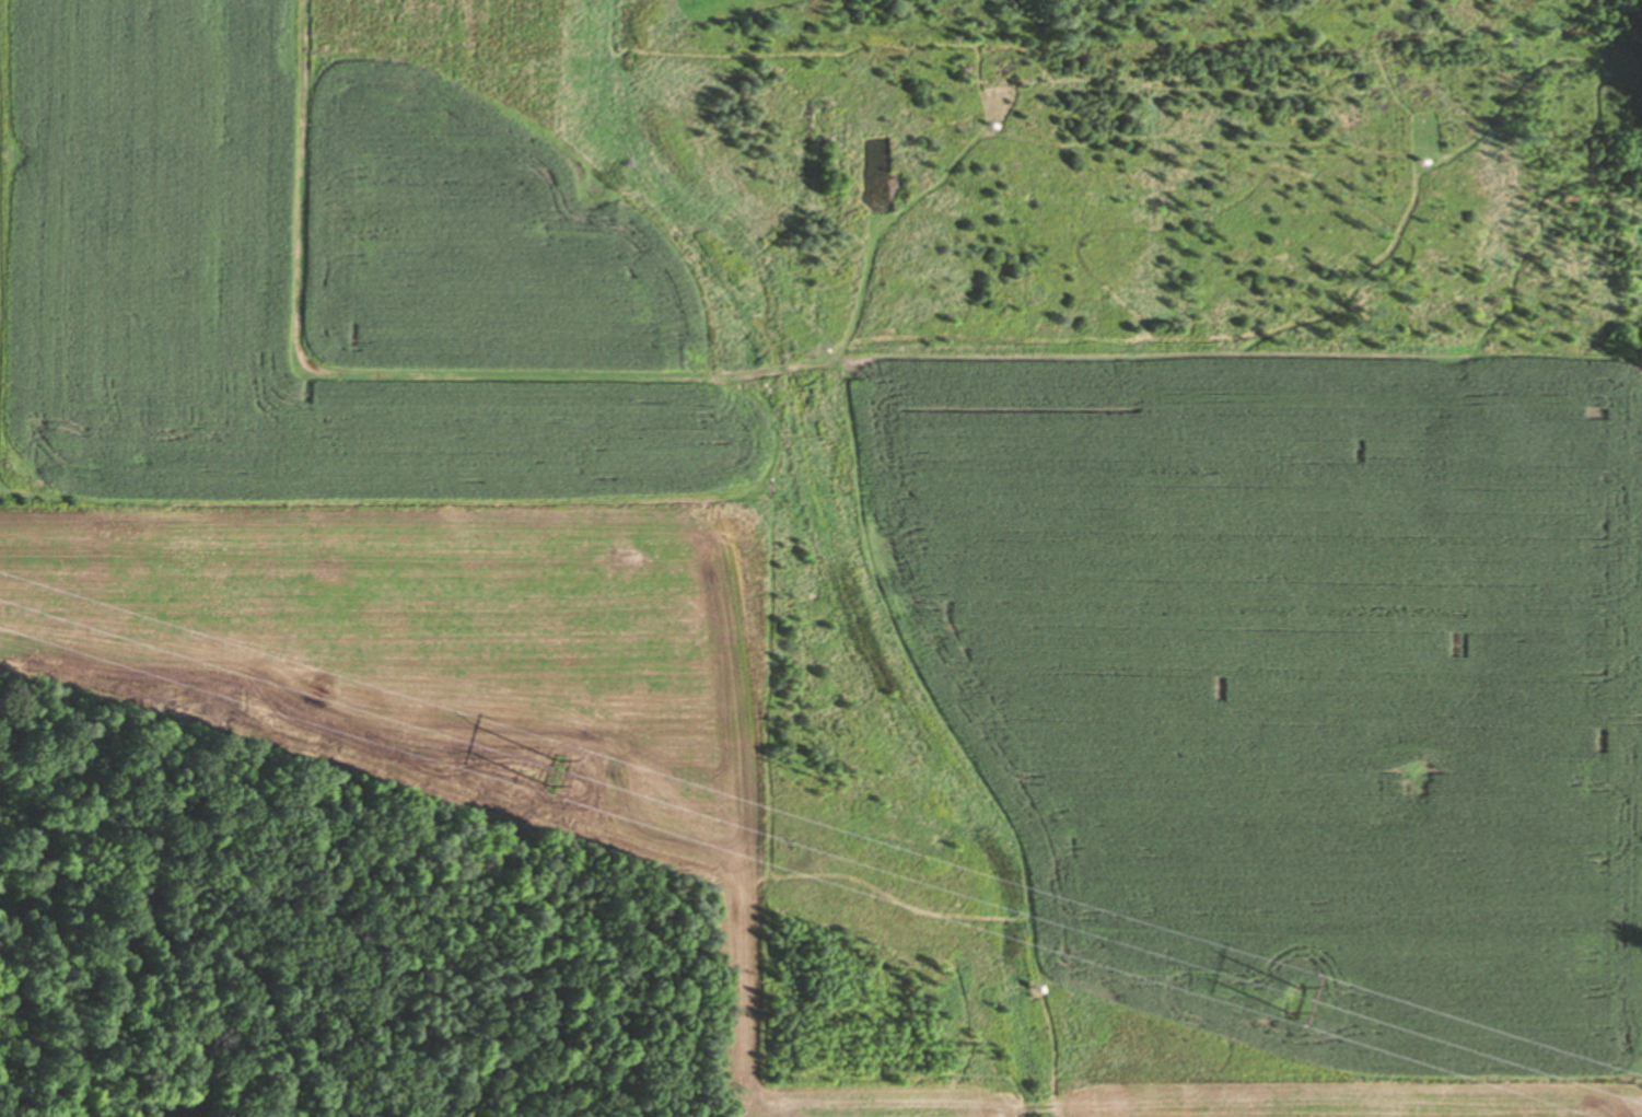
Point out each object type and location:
power tower: (554, 770)
power tower: (1292, 998)

